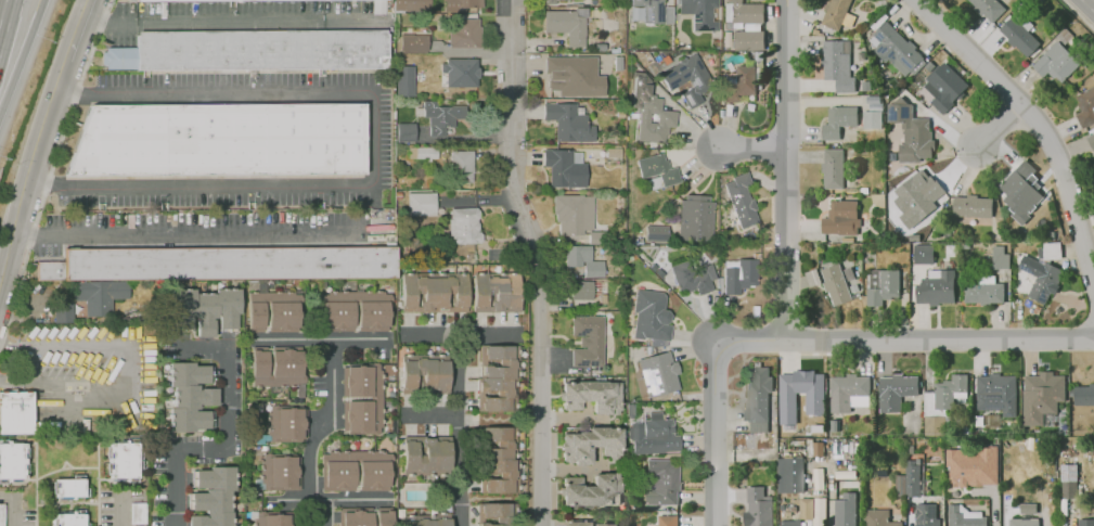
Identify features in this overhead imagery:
building: (178, 0)
building: (549, 0)
road: (1091, 2)
building: (410, 3)
building: (460, 3)
building: (989, 7)
building: (649, 10)
building: (699, 10)
building: (744, 11)
building: (835, 12)
road: (1080, 13)
road: (4, 18)
road: (232, 20)
building: (567, 25)
road: (78, 29)
building: (466, 31)
building: (1019, 35)
building: (747, 38)
road: (538, 40)
building: (410, 42)
building: (896, 47)
building: (252, 50)
road: (471, 51)
road: (22, 54)
building: (1057, 61)
building: (838, 63)
building: (461, 70)
building: (574, 75)
building: (686, 77)
building: (406, 79)
building: (741, 81)
building: (947, 81)
building: (1086, 105)
building: (651, 111)
building: (441, 116)
building: (871, 119)
building: (568, 120)
building: (838, 120)
building: (406, 130)
building: (912, 131)
road: (1035, 132)
road: (998, 134)
road: (461, 138)
building: (220, 140)
building: (1091, 141)
road: (373, 152)
building: (423, 152)
road: (751, 152)
building: (462, 163)
road: (53, 165)
building: (564, 166)
building: (658, 167)
building: (832, 167)
road: (29, 168)
road: (785, 170)
building: (921, 187)
building: (1019, 192)
road: (479, 197)
building: (741, 198)
building: (421, 202)
building: (973, 205)
building: (574, 213)
building: (841, 216)
building: (695, 219)
building: (464, 223)
building: (655, 233)
road: (201, 235)
building: (924, 253)
building: (1000, 256)
building: (583, 259)
road: (538, 260)
building: (221, 262)
building: (739, 274)
building: (692, 275)
building: (1041, 278)
building: (836, 282)
building: (884, 286)
building: (936, 286)
building: (581, 287)
building: (434, 291)
building: (495, 291)
building: (983, 292)
building: (99, 295)
building: (201, 307)
building: (62, 311)
building: (372, 313)
building: (256, 315)
building: (283, 315)
building: (337, 315)
building: (651, 315)
road: (497, 337)
road: (423, 338)
building: (589, 339)
road: (904, 341)
road: (453, 352)
road: (130, 363)
building: (278, 363)
building: (425, 371)
parking lot: (83, 373)
building: (658, 373)
building: (498, 376)
building: (847, 389)
building: (896, 389)
building: (948, 389)
building: (996, 393)
building: (1041, 394)
building: (1084, 394)
building: (591, 395)
building: (189, 396)
building: (360, 397)
building: (758, 398)
road: (329, 401)
building: (787, 401)
building: (15, 411)
road: (430, 414)
road: (574, 416)
building: (287, 422)
building: (655, 435)
road: (718, 435)
road: (456, 440)
road: (228, 442)
building: (591, 442)
building: (426, 454)
building: (502, 458)
building: (13, 460)
building: (121, 460)
road: (65, 461)
road: (572, 466)
building: (970, 466)
road: (59, 470)
building: (281, 470)
building: (357, 470)
building: (794, 473)
building: (1068, 478)
building: (908, 479)
building: (662, 480)
road: (37, 485)
road: (99, 485)
building: (68, 487)
building: (593, 488)
road: (988, 490)
building: (215, 496)
road: (110, 499)
road: (292, 499)
road: (355, 499)
road: (68, 502)
road: (70, 504)
building: (759, 506)
parking lot: (123, 508)
building: (811, 508)
parking lot: (18, 509)
building: (845, 510)
road: (120, 511)
road: (17, 512)
building: (138, 513)
building: (497, 513)
road: (912, 513)
building: (1, 514)
road: (832, 514)
building: (927, 514)
building: (364, 515)
building: (272, 517)
building: (878, 517)
building: (963, 517)
building: (68, 518)
building: (427, 518)
building: (668, 519)
building: (591, 522)
building: (791, 522)
building: (1024, 522)
building: (1086, 522)

